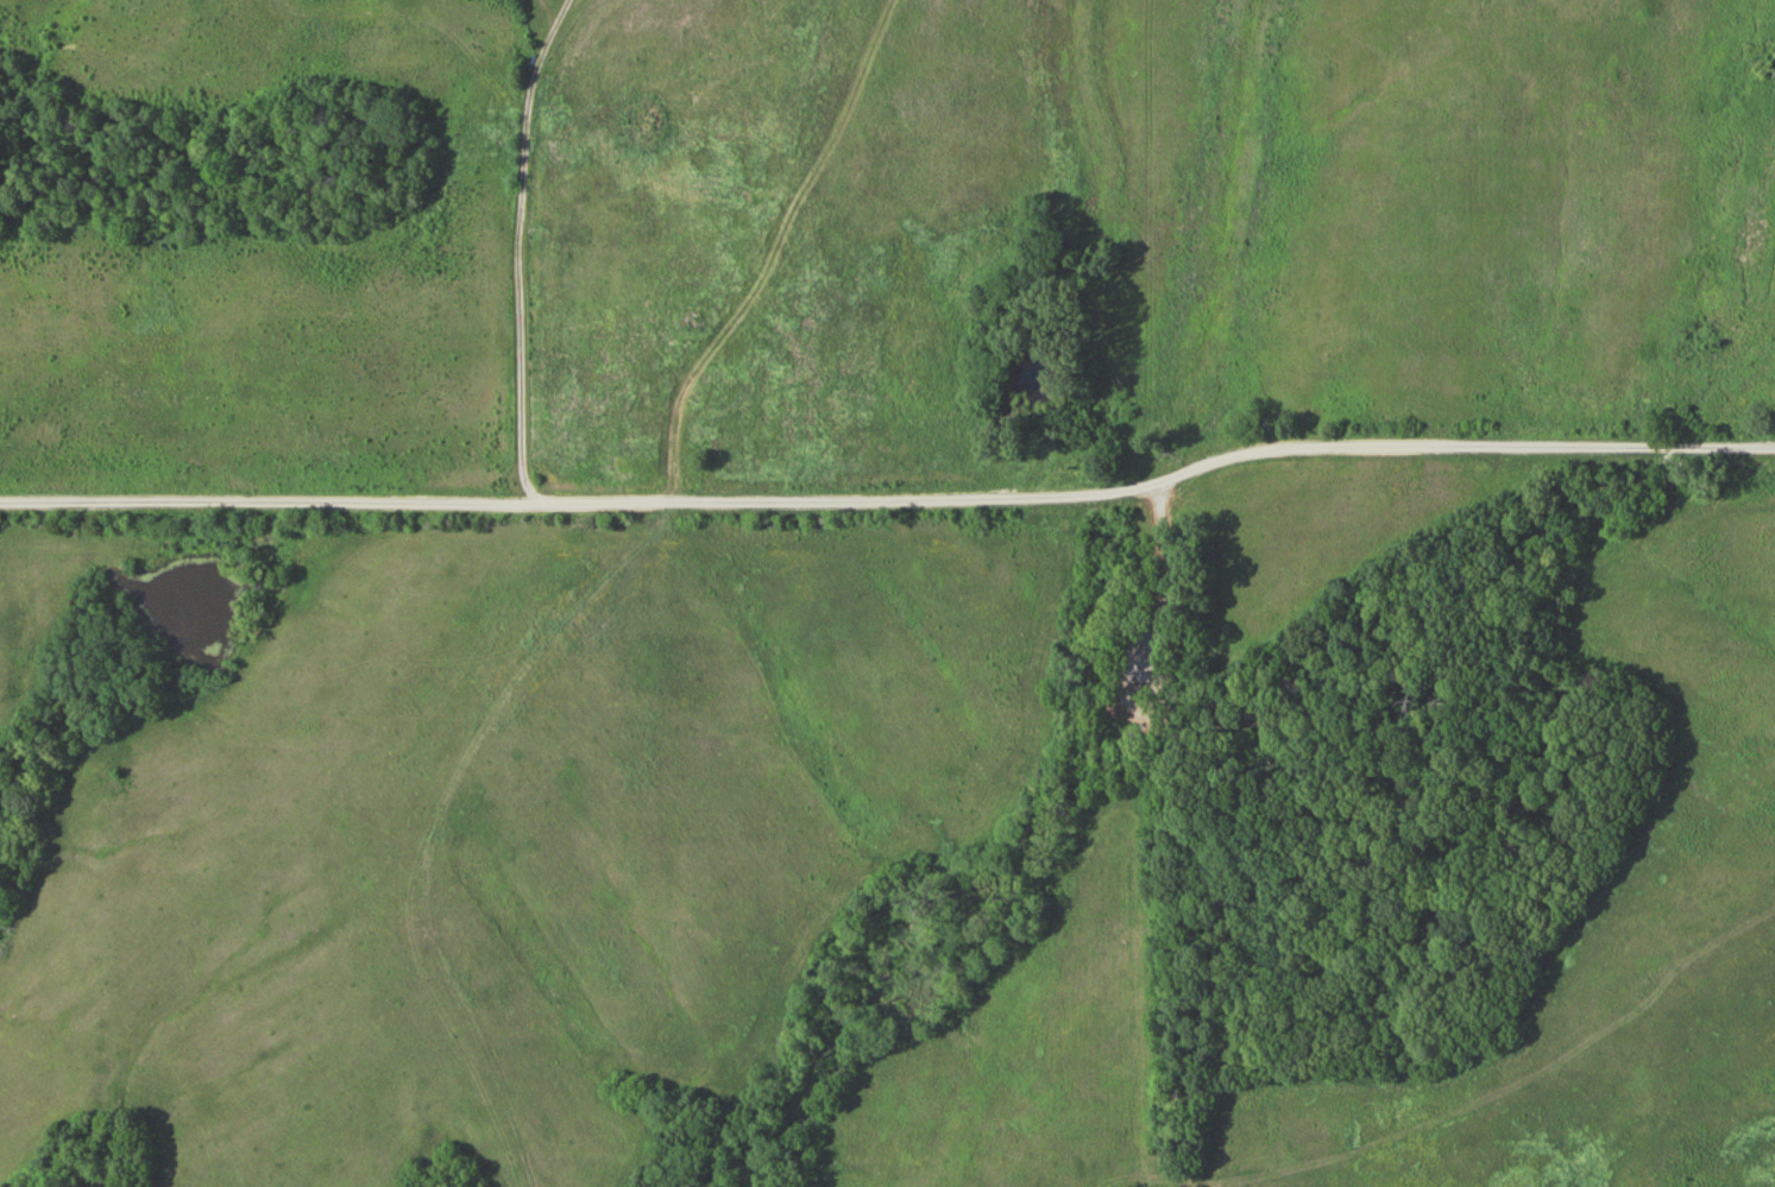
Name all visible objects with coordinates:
road: (558, 32)
road: (525, 266)
road: (676, 413)
road: (1153, 486)
road: (263, 500)

